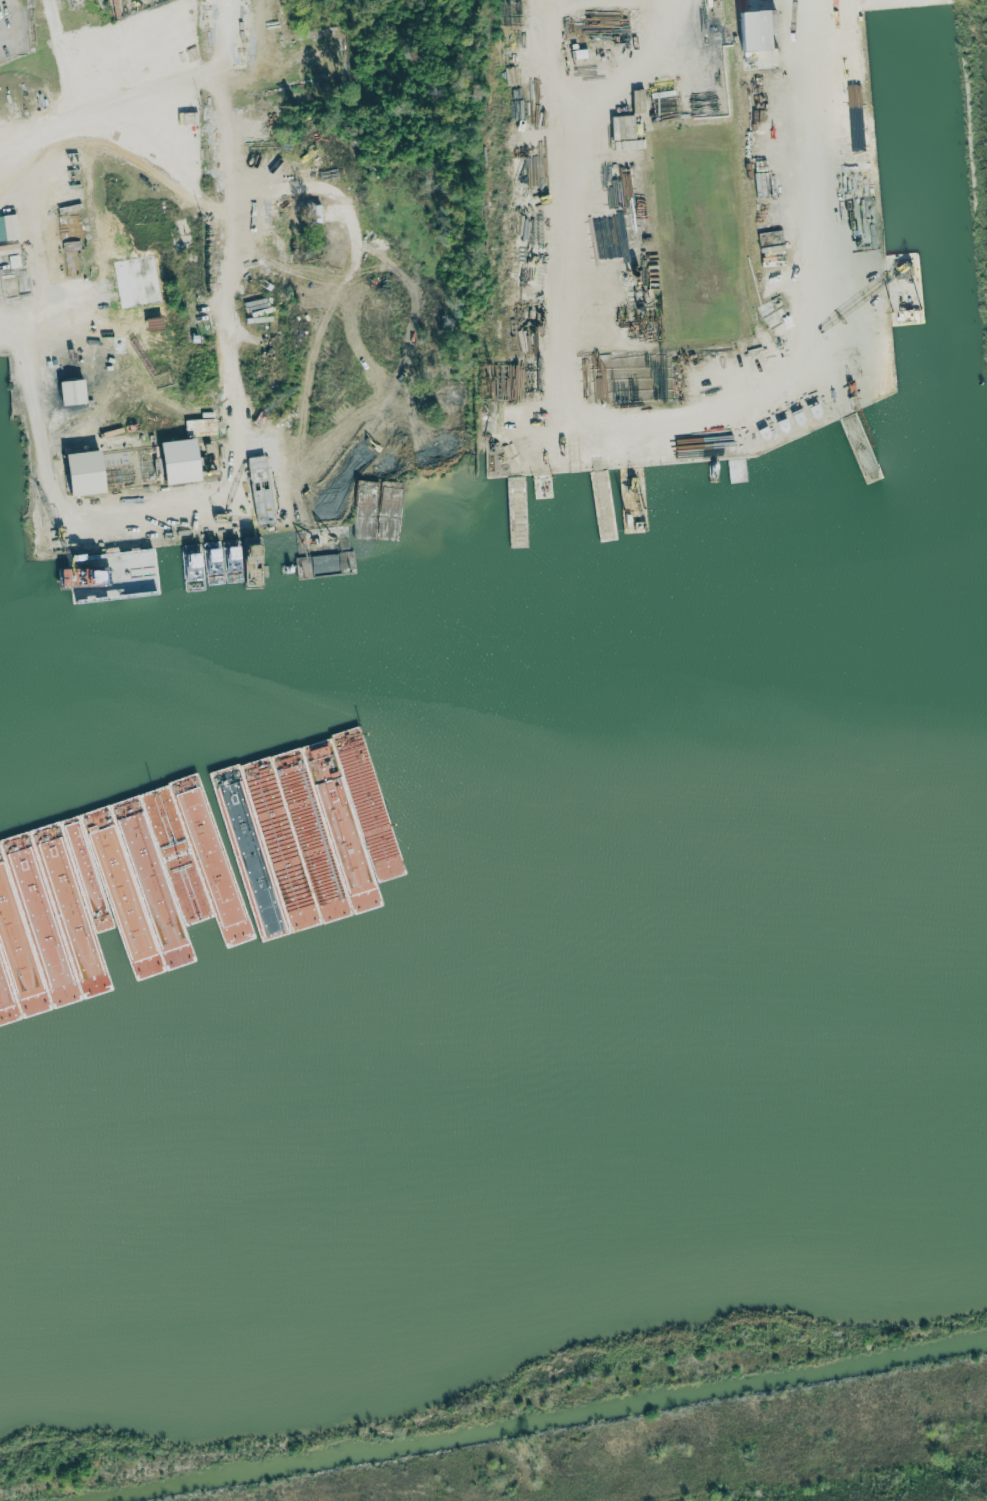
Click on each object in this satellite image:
building: (750, 30)
building: (310, 213)
building: (7, 227)
road: (52, 272)
road: (26, 314)
building: (65, 392)
road: (657, 408)
building: (170, 462)
building: (85, 504)
landfill: (681, 1484)

